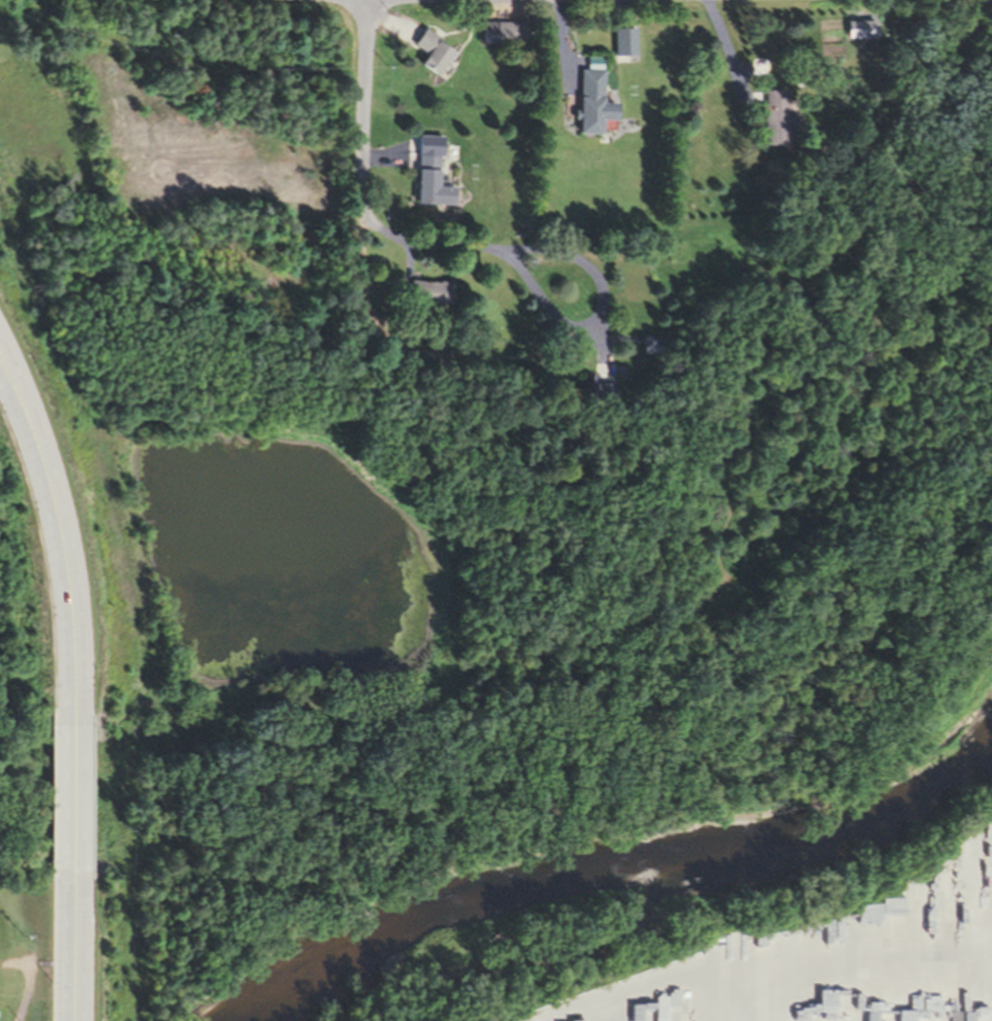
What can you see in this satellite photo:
building: (504, 32)
building: (624, 41)
building: (432, 51)
building: (593, 103)
road: (364, 106)
building: (773, 117)
building: (429, 177)
building: (427, 291)
building: (590, 388)
road: (15, 389)
road: (13, 406)
road: (63, 576)
road: (71, 796)
park: (328, 870)
river: (667, 910)
road: (69, 943)

